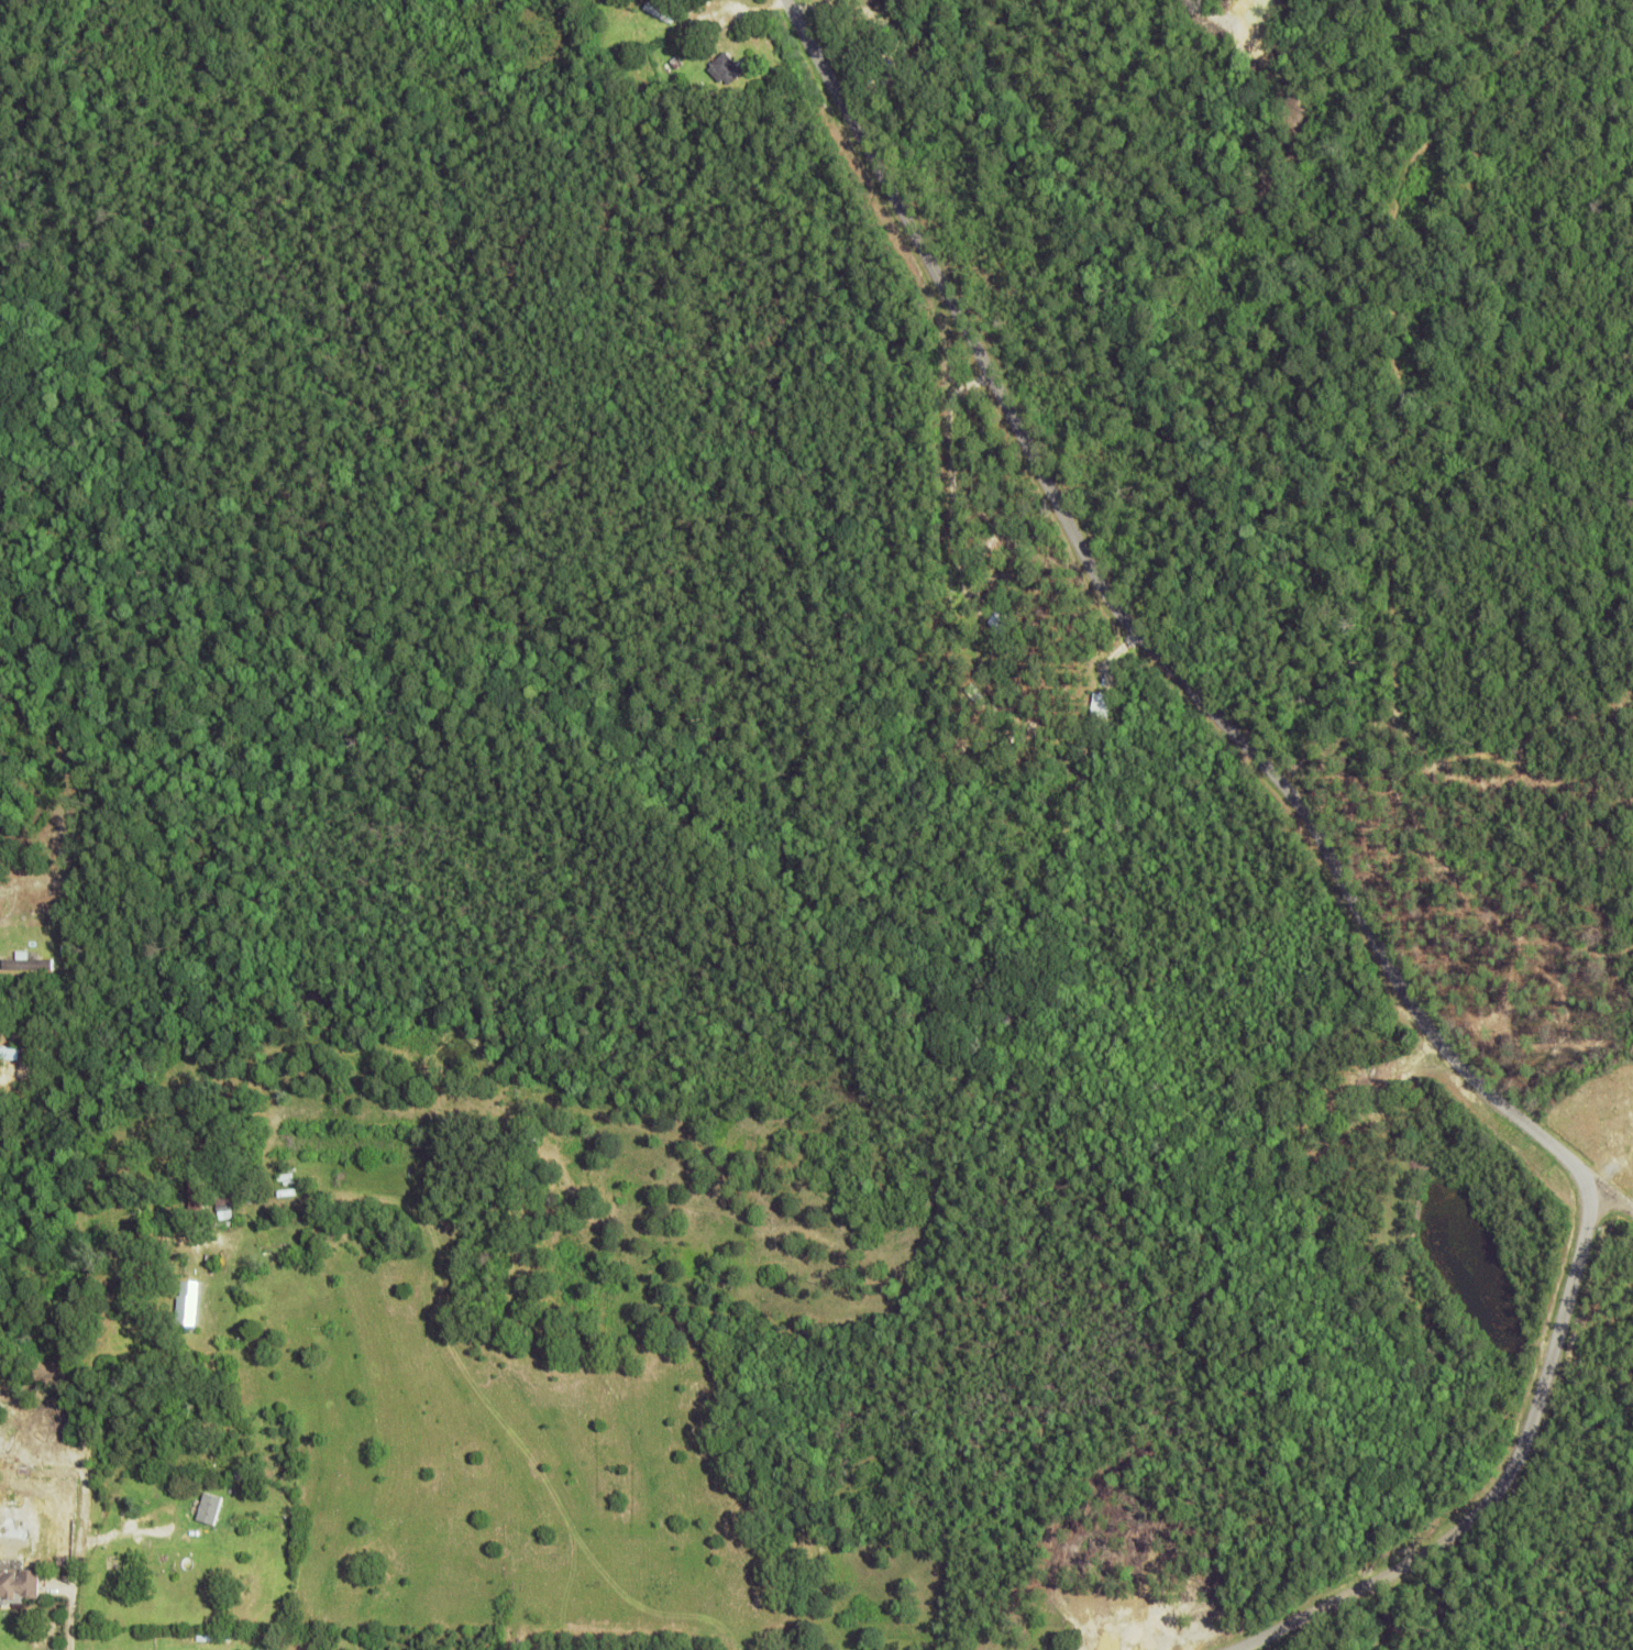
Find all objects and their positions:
building: (655, 19)
building: (862, 48)
building: (677, 63)
building: (726, 69)
building: (1003, 619)
road: (1156, 646)
building: (68, 952)
building: (30, 966)
building: (1336, 1137)
building: (287, 1178)
building: (199, 1196)
building: (189, 1305)
road: (1503, 1487)
building: (211, 1511)
building: (225, 1518)
building: (236, 1536)
road: (67, 1548)
building: (19, 1582)
building: (1046, 1640)
building: (214, 1642)
building: (1075, 1649)

